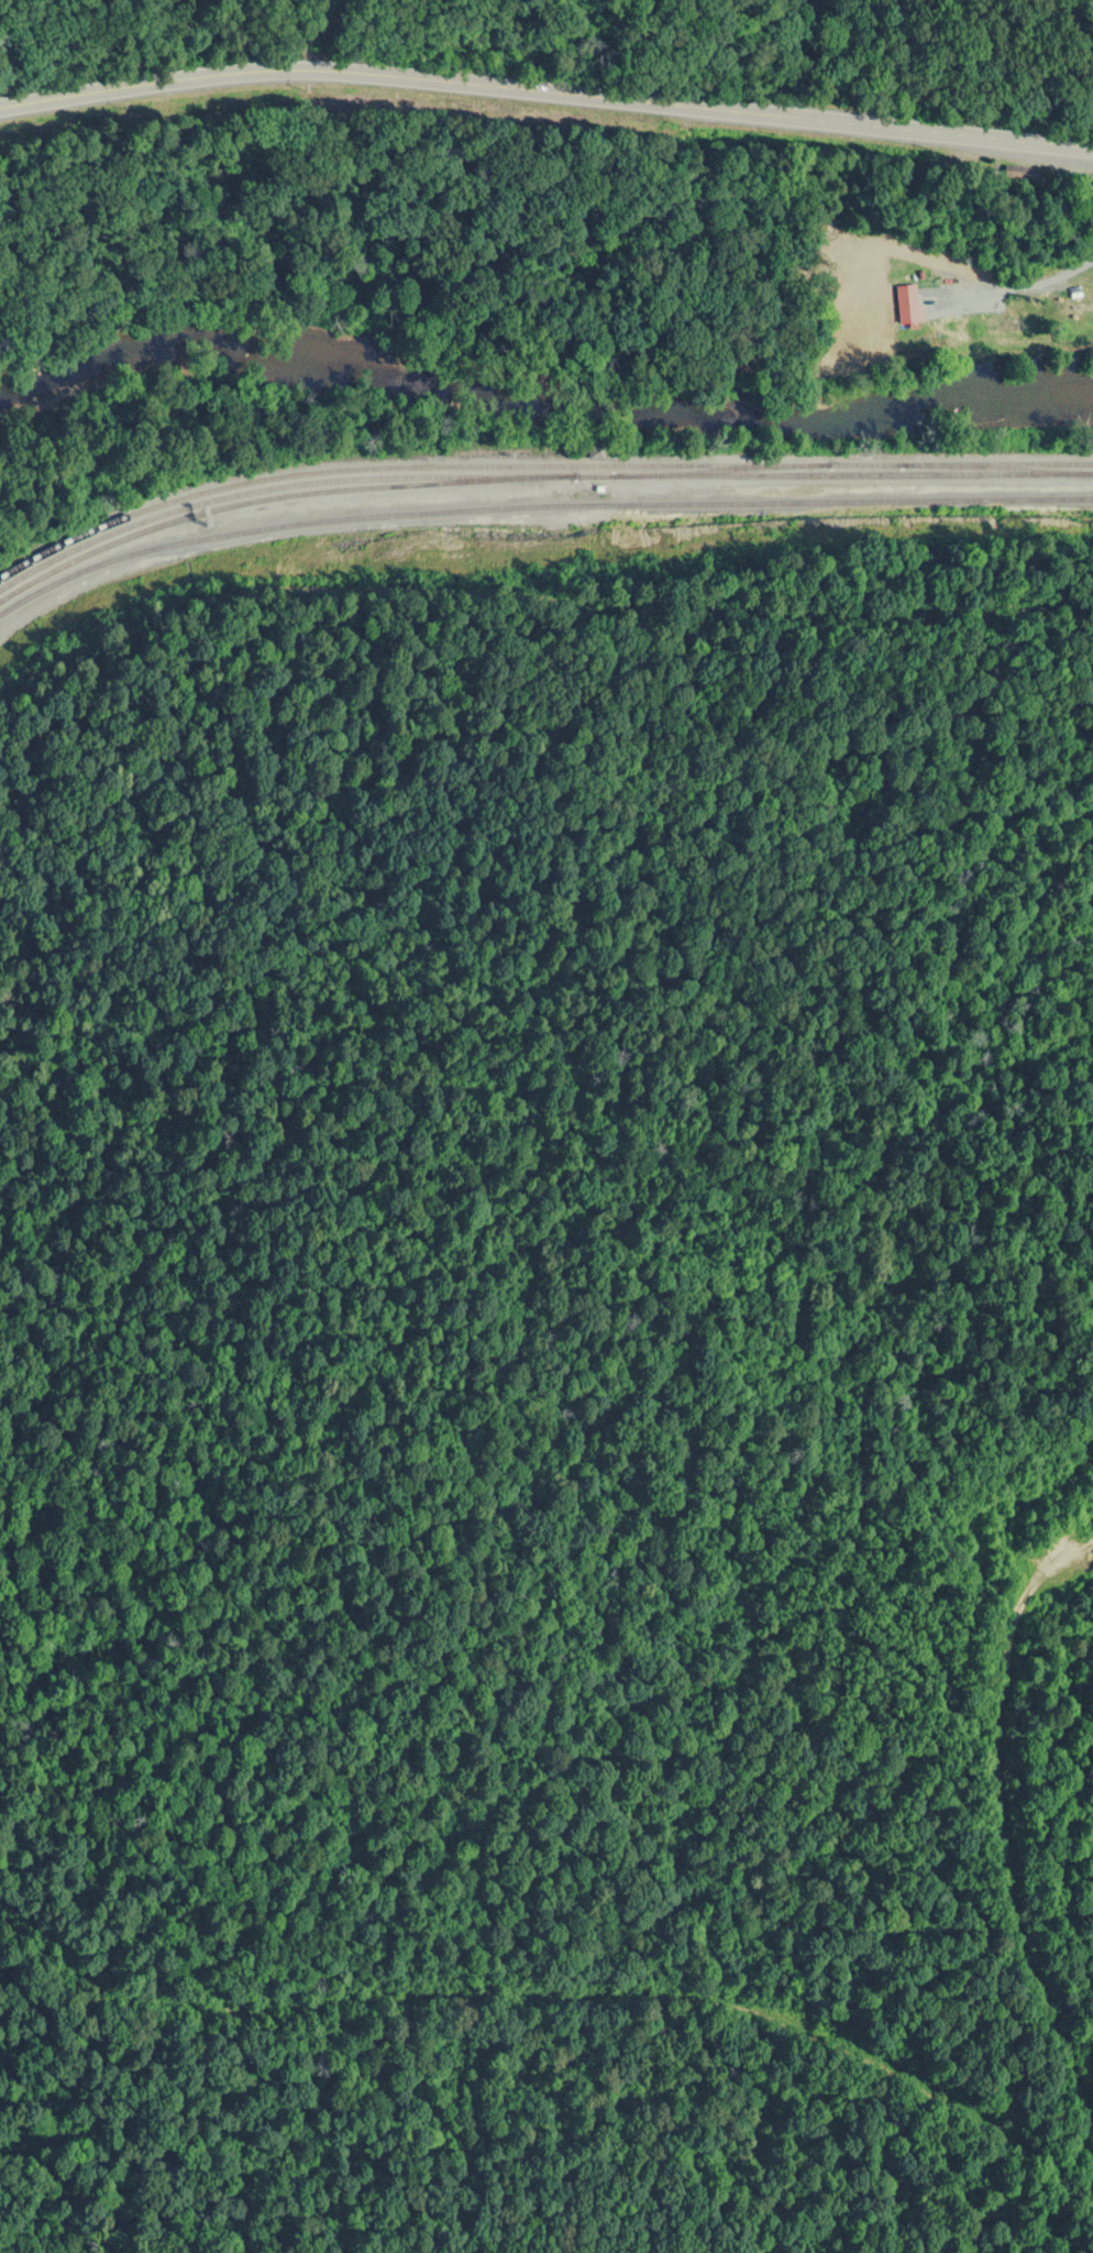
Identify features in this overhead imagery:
road: (545, 92)
river: (540, 387)
railway: (537, 464)
railway: (374, 480)
railway: (537, 481)

